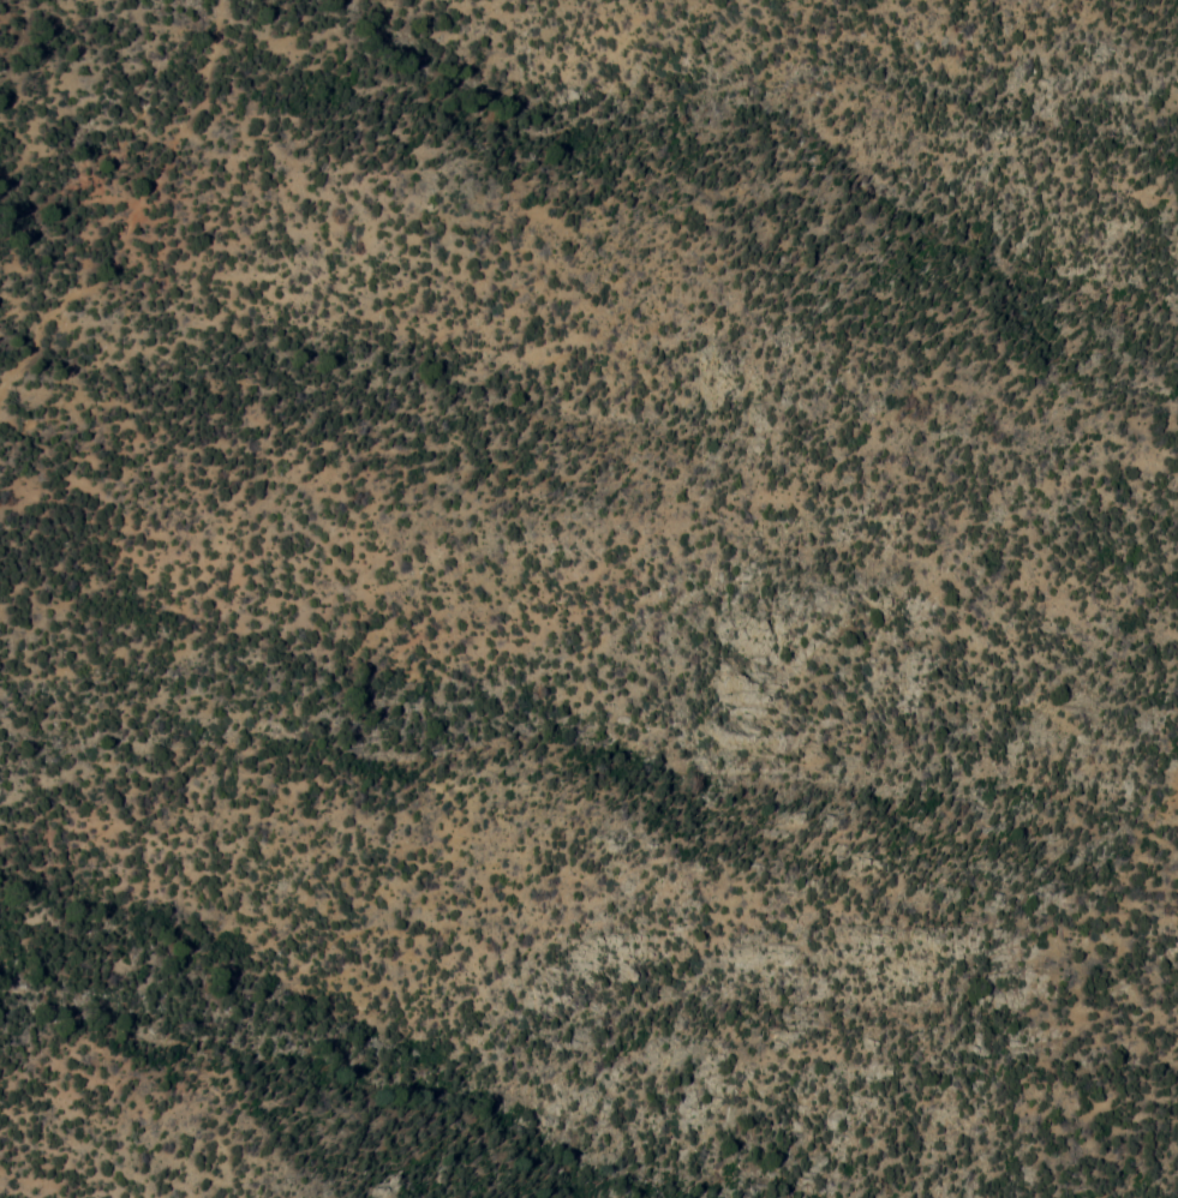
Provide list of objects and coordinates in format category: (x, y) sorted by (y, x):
road: (127, 241)

